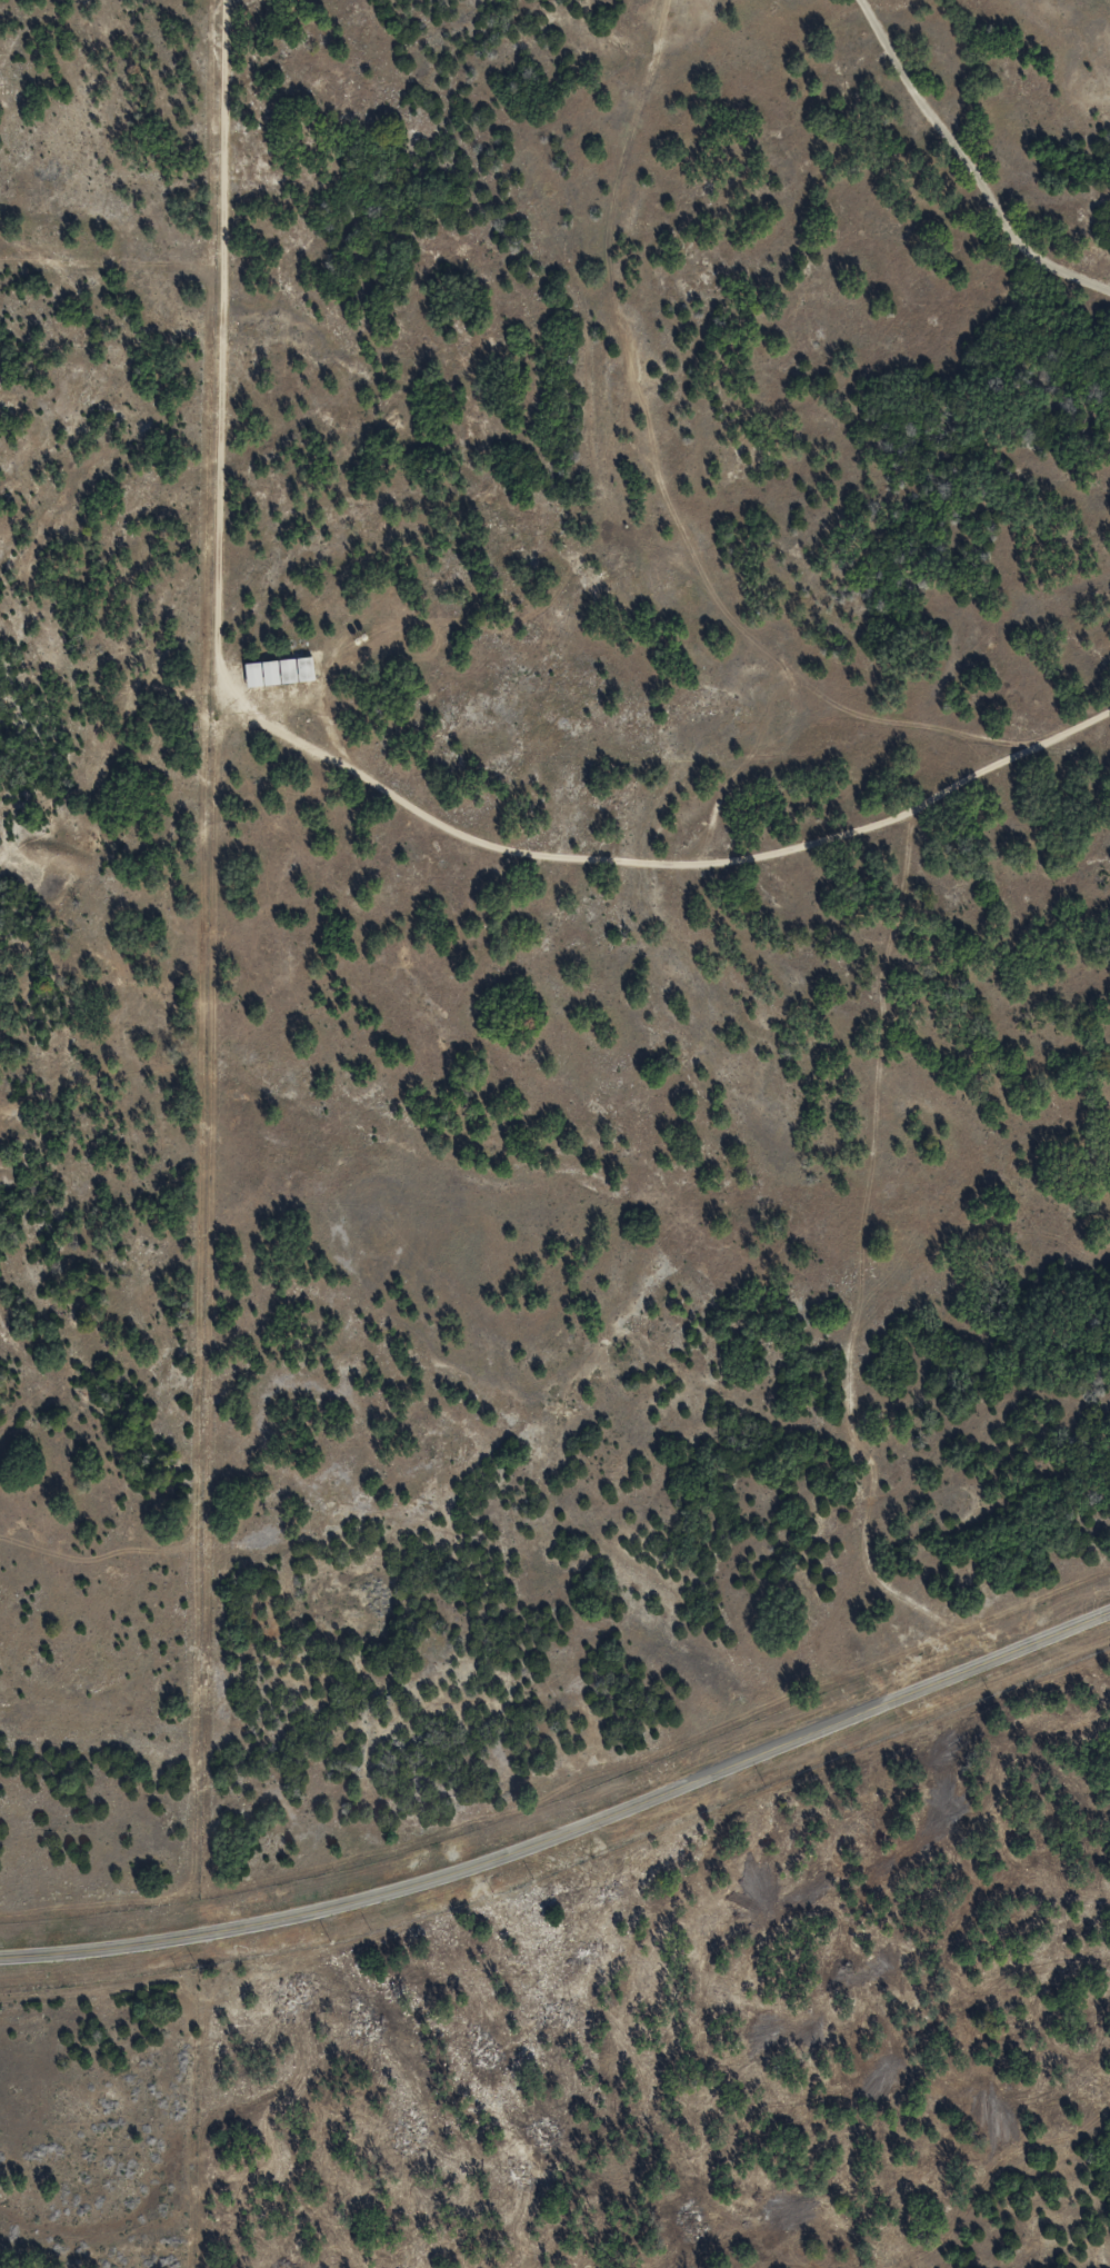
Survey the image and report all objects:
road: (969, 161)
building: (277, 672)
road: (336, 758)
road: (568, 1840)

